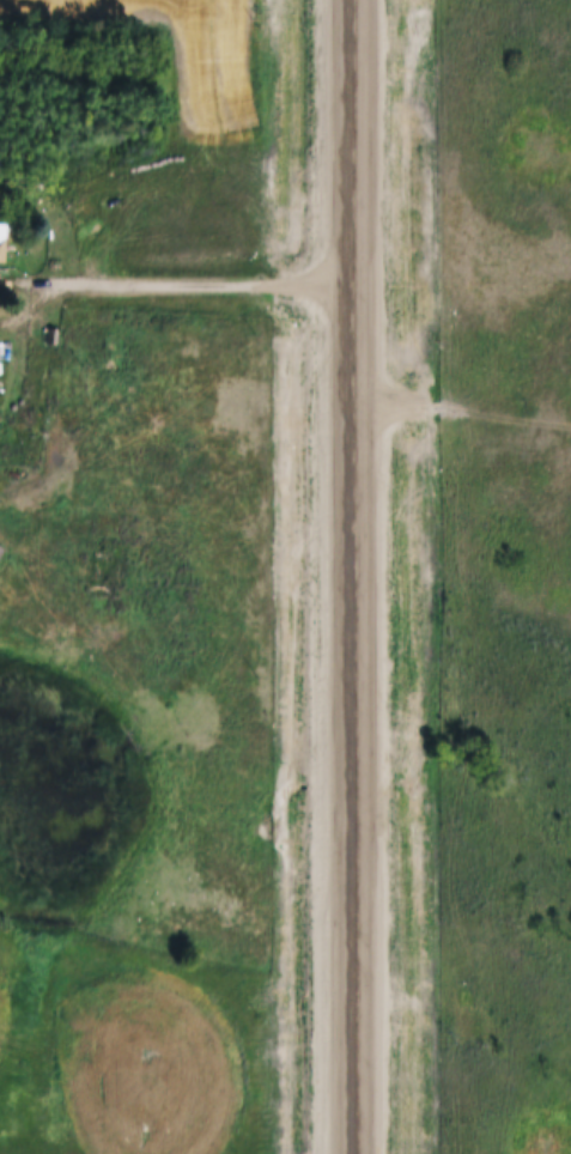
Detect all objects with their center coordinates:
building: (2, 232)
road: (182, 285)
building: (53, 326)
building: (0, 540)
road: (359, 576)

